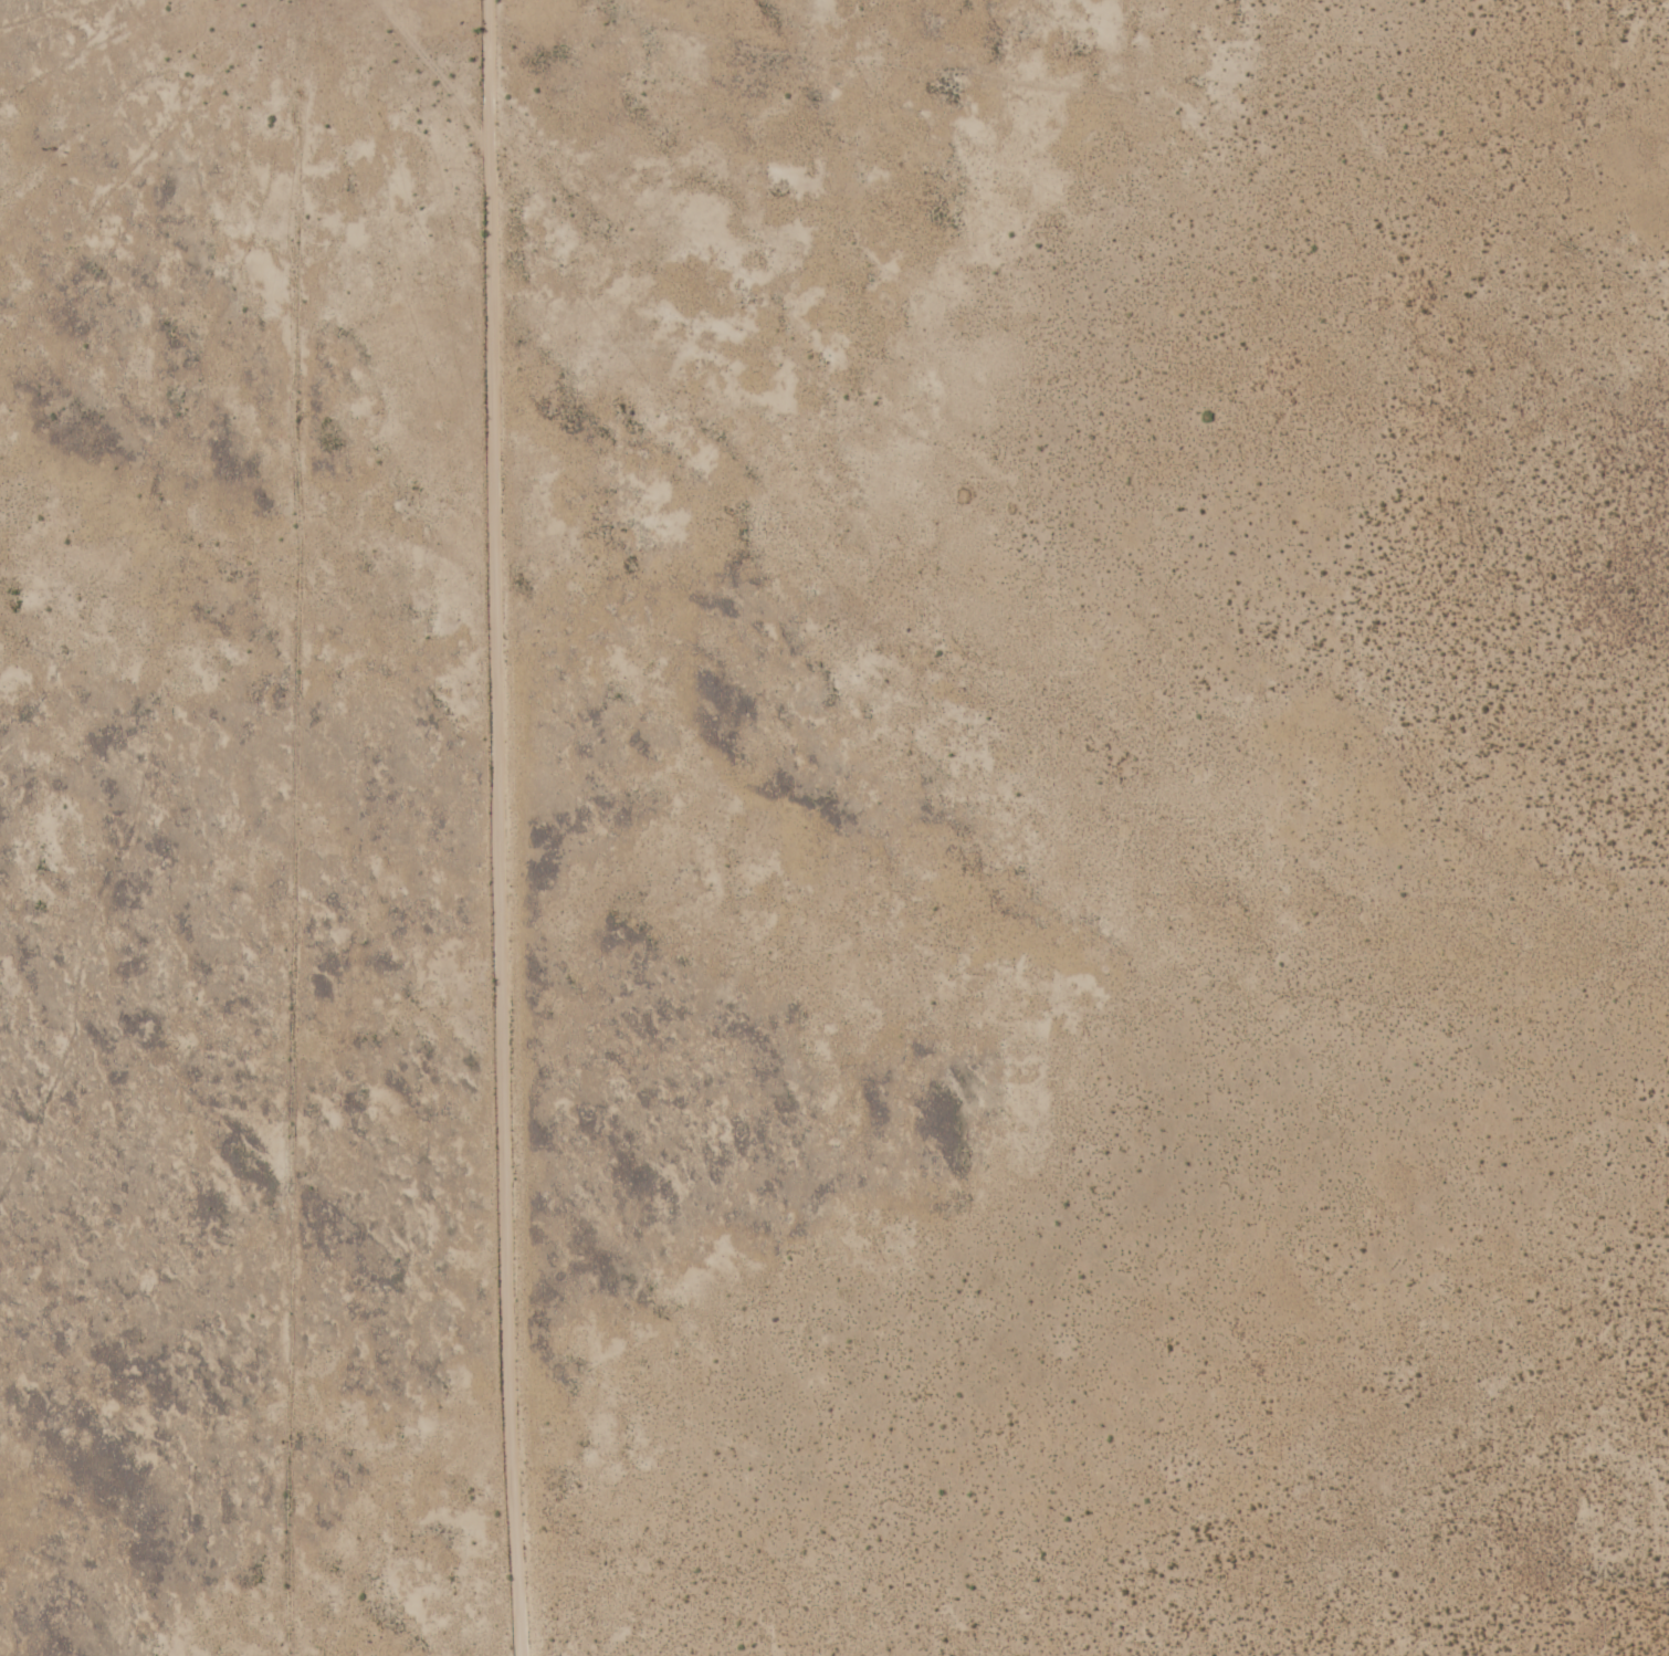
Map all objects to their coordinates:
road: (485, 828)

